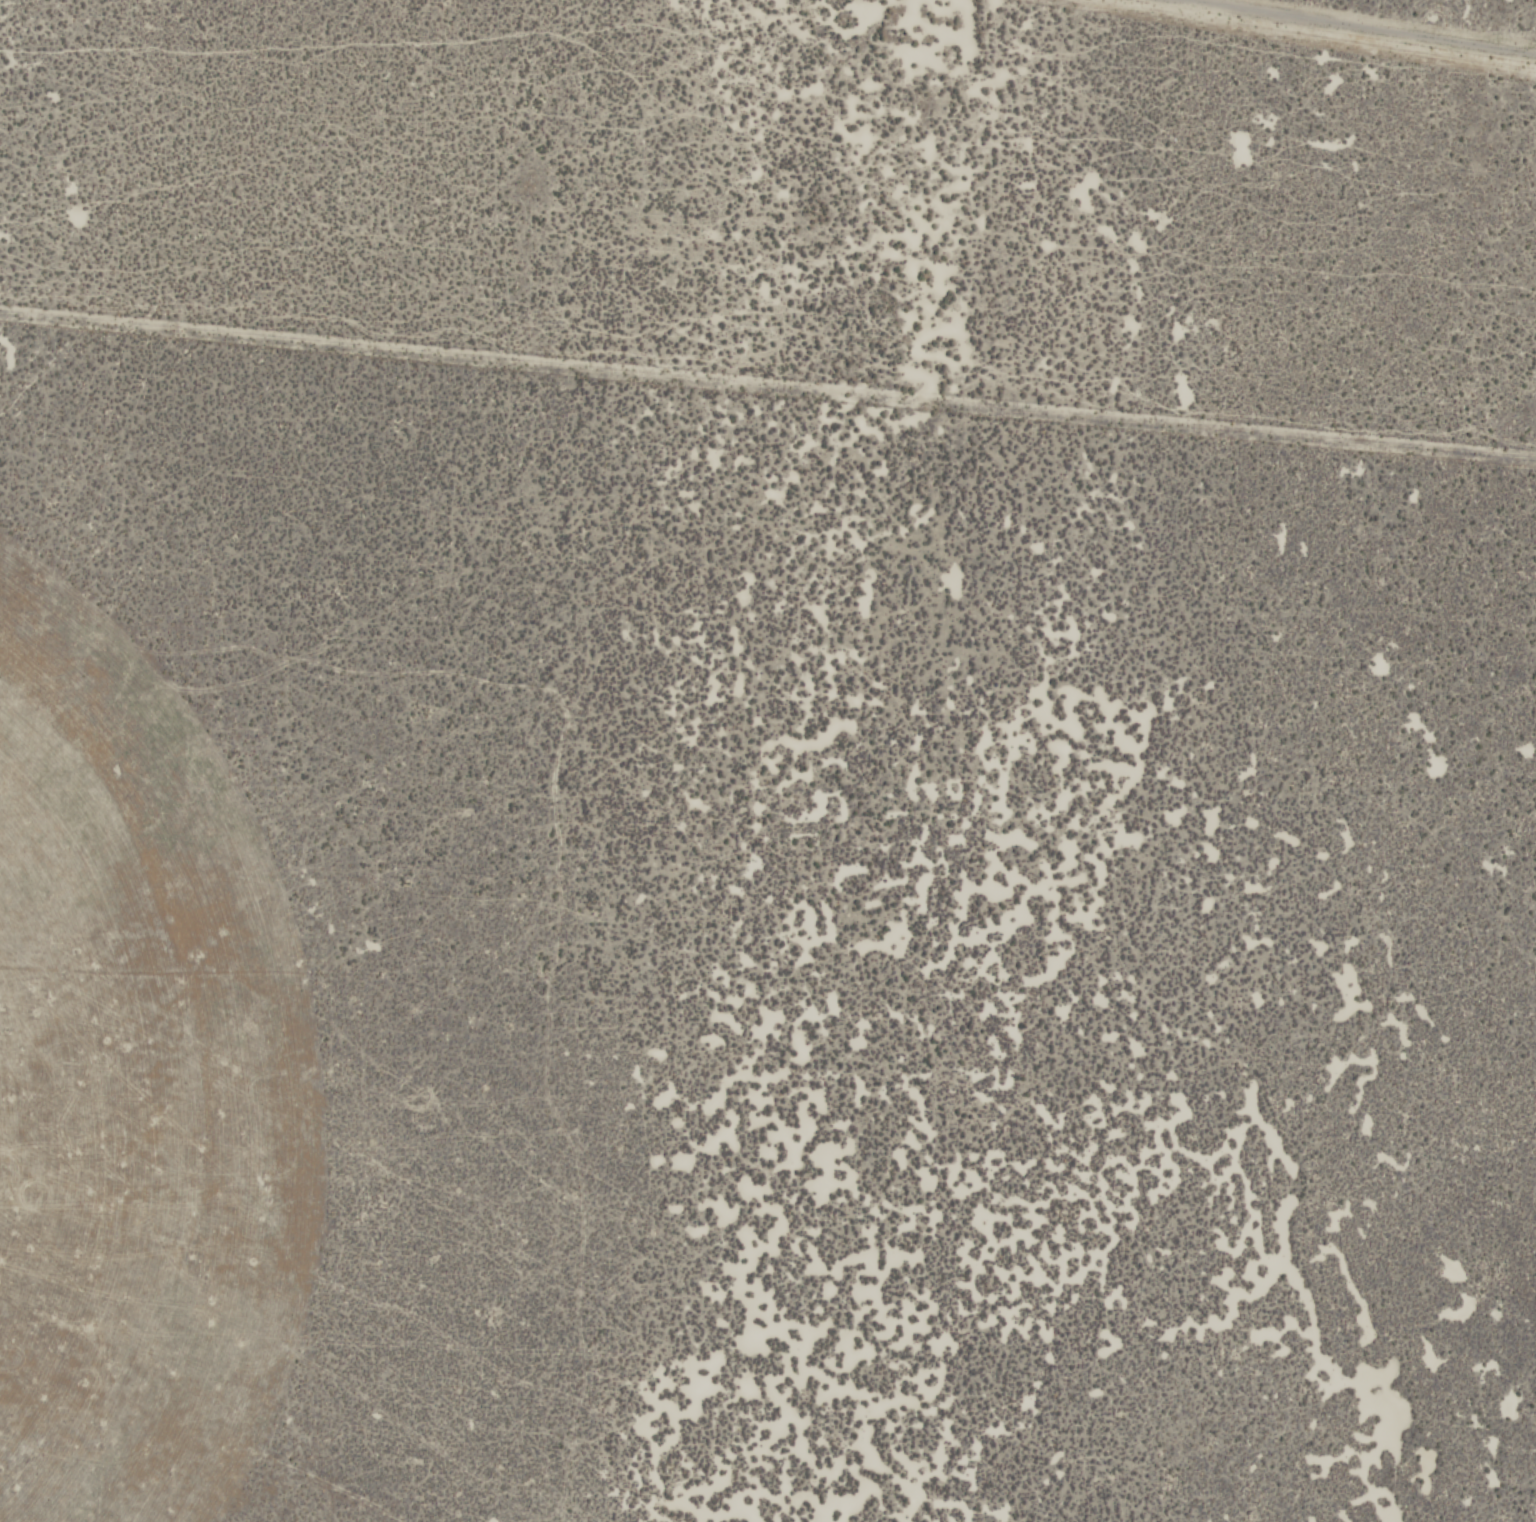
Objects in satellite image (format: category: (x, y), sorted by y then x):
airport: (813, 203)

